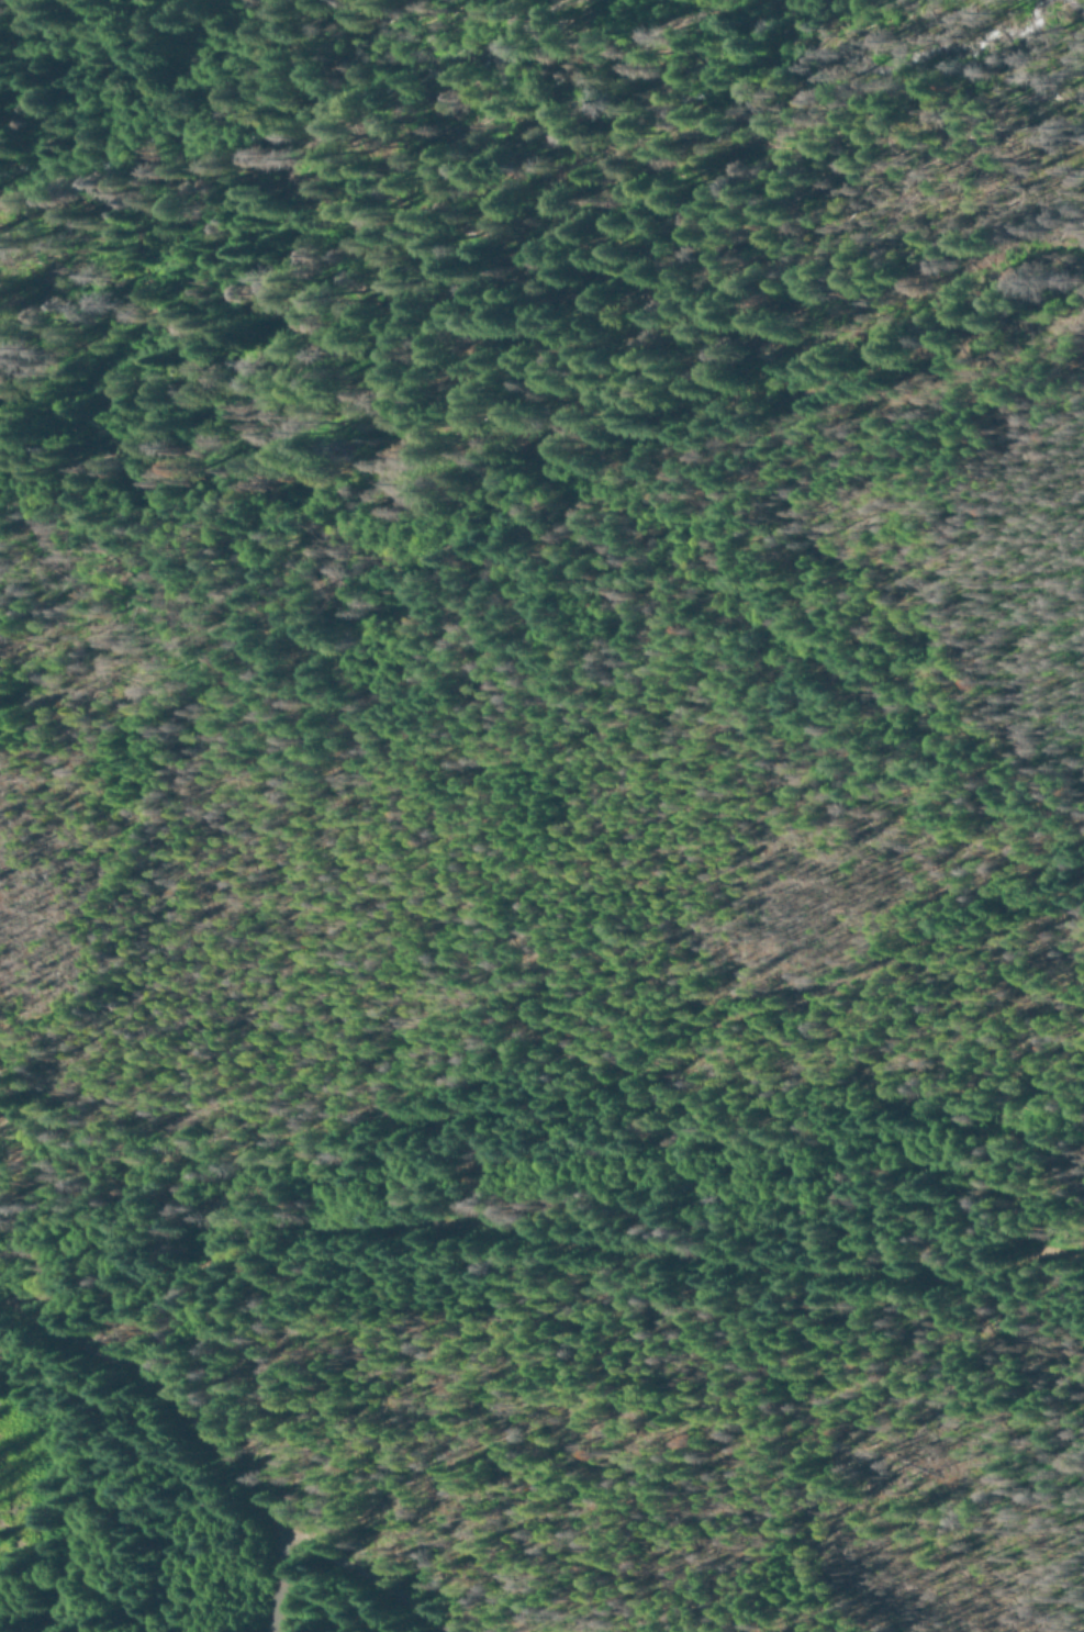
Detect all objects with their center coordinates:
road: (449, 1233)

